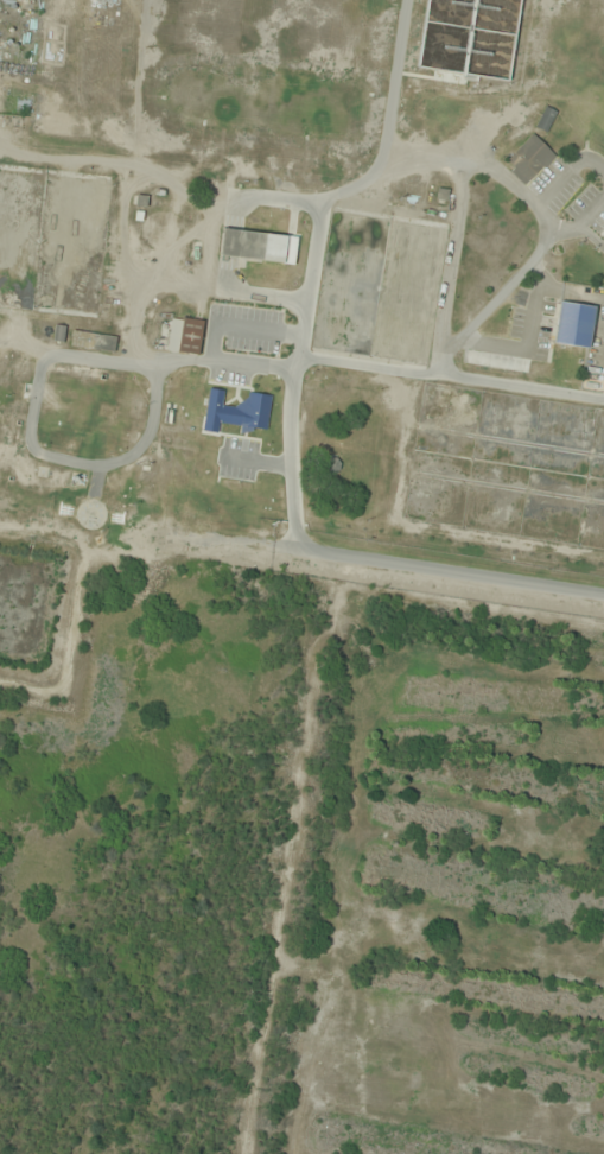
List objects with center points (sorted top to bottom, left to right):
wastewater plant: (203, 59)
building: (543, 119)
building: (528, 159)
building: (241, 245)
wastewater plant: (310, 267)
building: (572, 324)
building: (58, 334)
building: (184, 336)
building: (91, 341)
building: (246, 412)
wastewater plant: (507, 467)
road: (468, 577)

